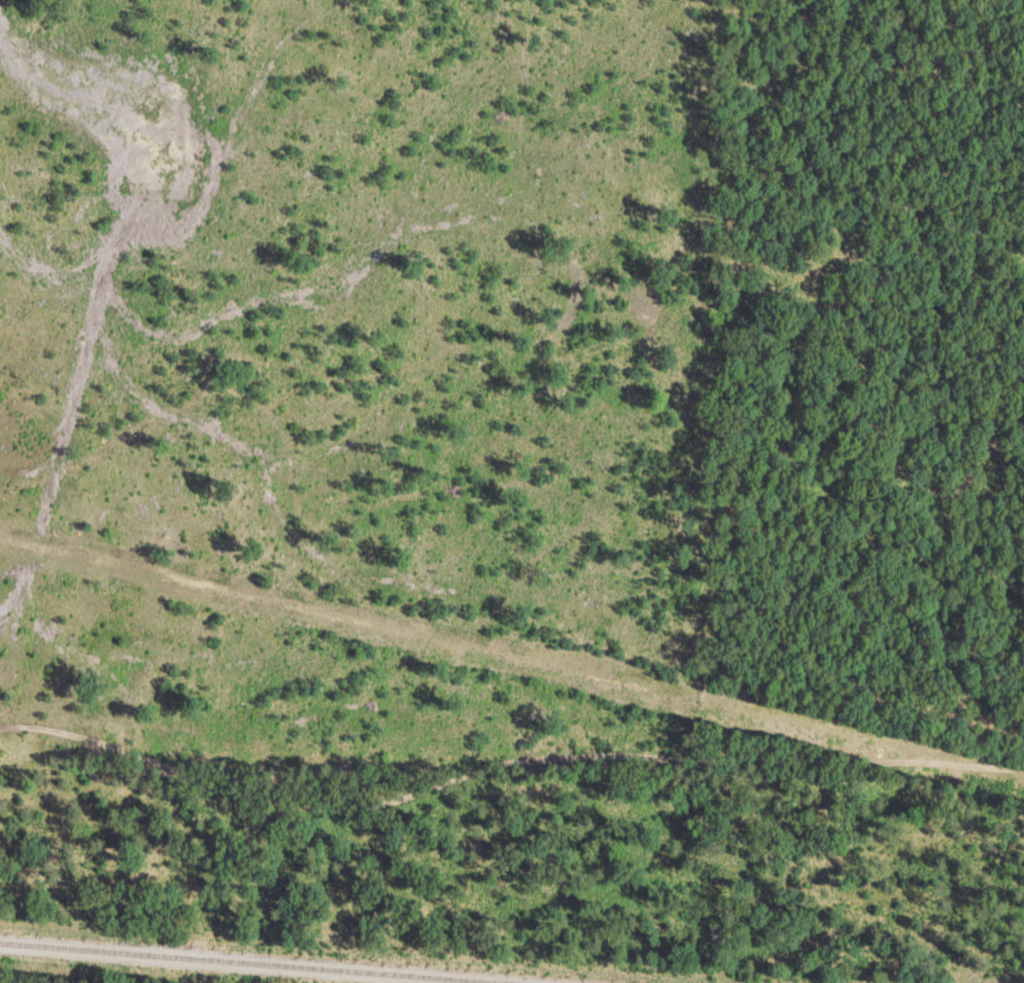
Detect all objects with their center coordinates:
road: (503, 759)
railway: (234, 963)

